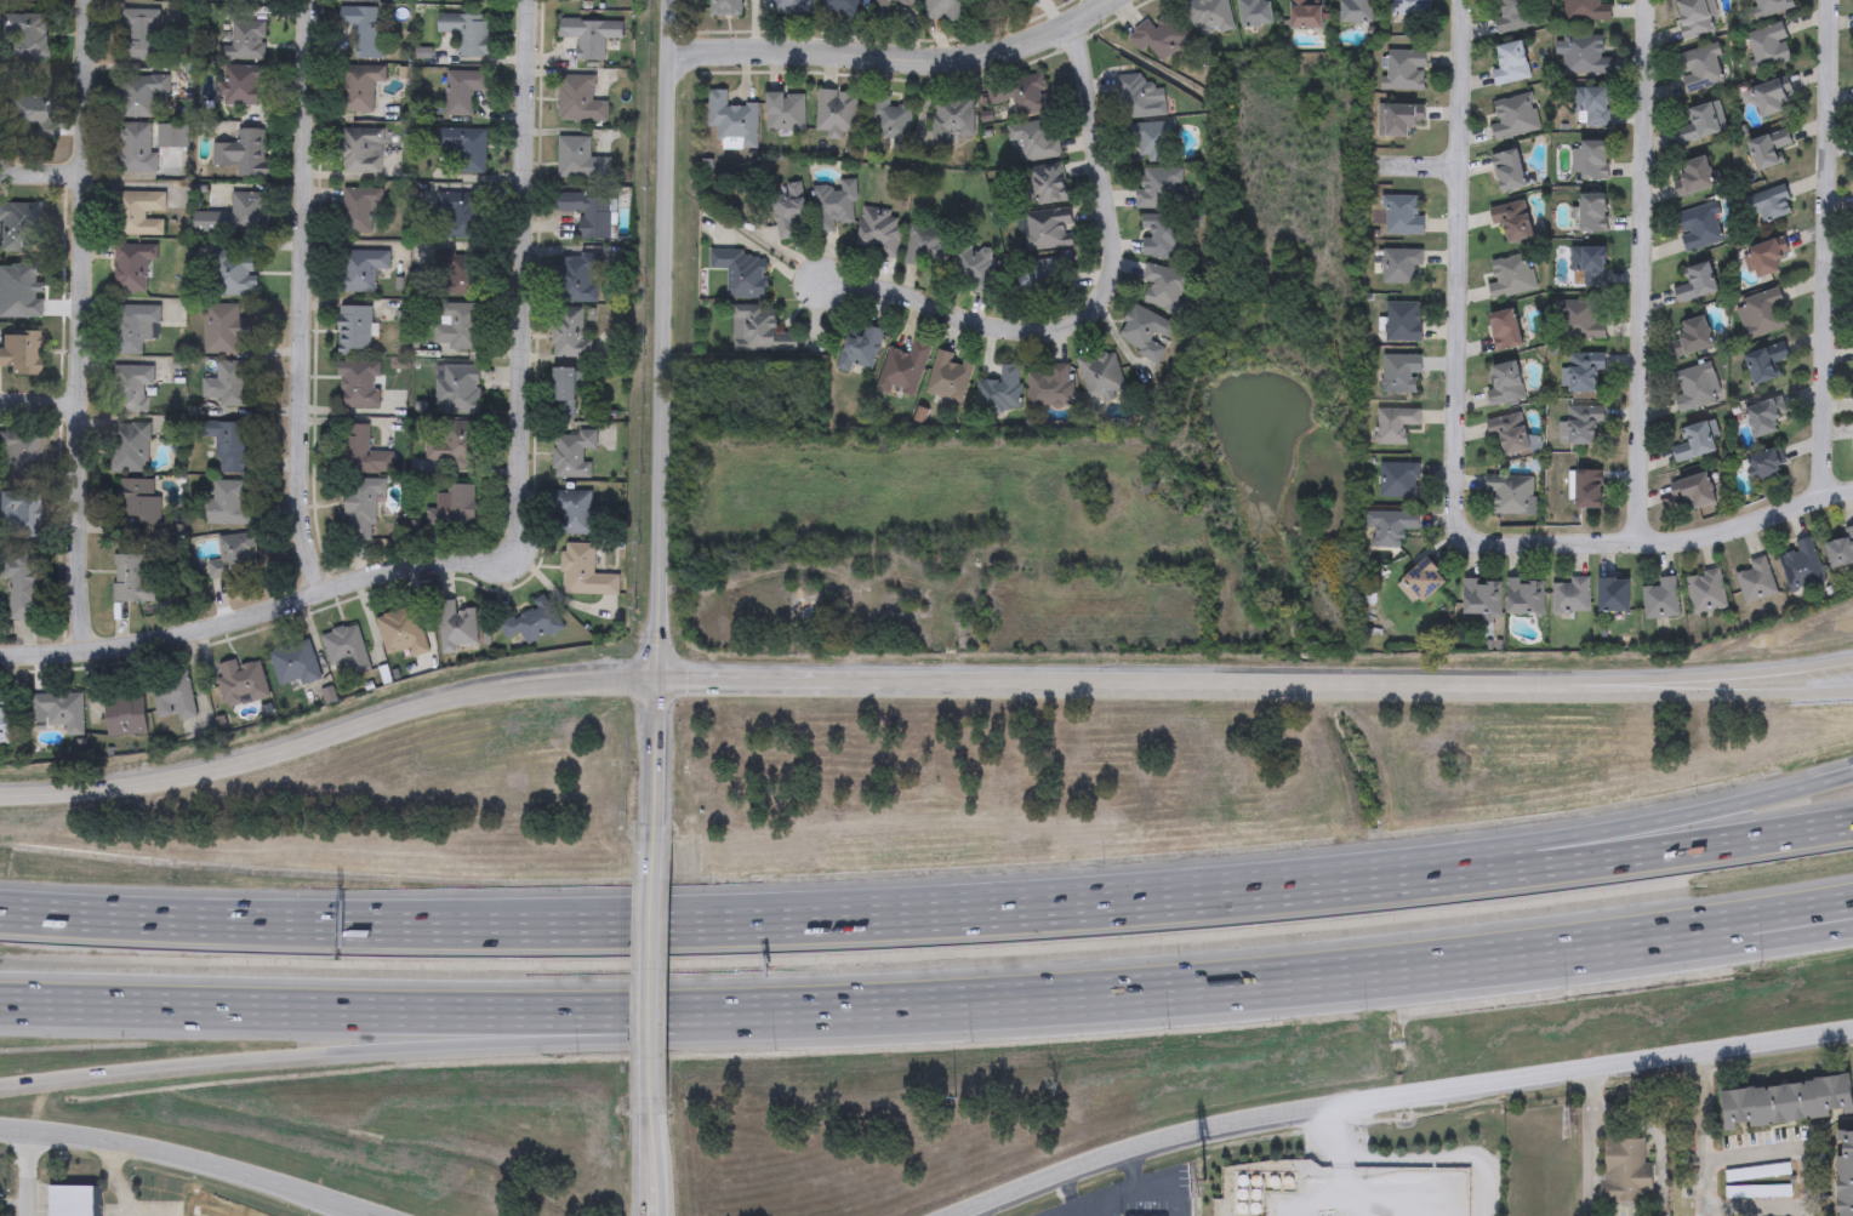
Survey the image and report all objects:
building: (467, 0)
building: (582, 0)
building: (247, 1)
building: (360, 1)
building: (791, 6)
building: (725, 7)
building: (842, 7)
building: (886, 7)
building: (1408, 7)
building: (1768, 7)
building: (943, 10)
building: (1585, 10)
building: (1356, 11)
building: (1255, 12)
building: (1208, 15)
building: (1306, 15)
building: (1512, 16)
building: (1693, 17)
building: (467, 33)
building: (361, 34)
building: (1159, 35)
building: (589, 36)
building: (246, 41)
building: (1768, 46)
building: (1584, 55)
road: (890, 57)
building: (1509, 63)
building: (1699, 68)
building: (1403, 69)
building: (243, 87)
building: (360, 87)
building: (463, 91)
building: (1025, 93)
building: (1139, 97)
building: (1769, 98)
building: (578, 99)
building: (1591, 107)
building: (783, 110)
building: (834, 113)
building: (1512, 115)
building: (951, 118)
building: (1397, 119)
building: (731, 120)
building: (889, 121)
building: (1699, 122)
building: (1034, 138)
building: (1152, 139)
building: (464, 148)
building: (1767, 148)
building: (361, 152)
building: (243, 154)
building: (578, 160)
building: (1587, 160)
road: (40, 170)
building: (1507, 171)
building: (1693, 176)
building: (1047, 184)
building: (1158, 187)
building: (834, 204)
building: (1768, 204)
building: (358, 210)
building: (788, 211)
building: (1591, 212)
building: (588, 213)
building: (1401, 215)
building: (235, 216)
building: (460, 216)
building: (1511, 219)
building: (1698, 228)
building: (1048, 229)
building: (878, 230)
building: (1162, 235)
building: (926, 244)
road: (1830, 249)
building: (1763, 258)
building: (1587, 264)
building: (1398, 266)
building: (360, 269)
building: (970, 269)
road: (1644, 270)
building: (740, 272)
building: (234, 274)
building: (1039, 275)
building: (457, 276)
building: (1510, 276)
building: (577, 279)
road: (524, 280)
building: (1694, 284)
building: (1164, 287)
road: (304, 298)
road: (1094, 301)
building: (1762, 313)
building: (1580, 320)
building: (1402, 321)
road: (82, 327)
building: (131, 327)
building: (458, 327)
building: (224, 330)
building: (757, 330)
building: (1504, 330)
building: (354, 331)
building: (1145, 332)
building: (569, 335)
building: (1690, 337)
building: (860, 347)
building: (1763, 362)
building: (903, 366)
building: (1398, 372)
building: (1100, 373)
building: (1583, 373)
building: (948, 378)
building: (1504, 384)
building: (230, 386)
building: (359, 386)
building: (1049, 387)
building: (130, 388)
building: (1692, 388)
building: (458, 390)
building: (999, 390)
building: (564, 394)
road: (40, 399)
road: (662, 413)
building: (1762, 416)
building: (1393, 424)
building: (1579, 426)
building: (1510, 434)
building: (1852, 436)
building: (1693, 441)
building: (230, 446)
building: (452, 446)
building: (130, 447)
building: (361, 452)
building: (571, 455)
road: (1454, 467)
building: (1762, 467)
building: (1397, 480)
building: (1584, 487)
building: (1692, 490)
building: (1509, 493)
building: (137, 502)
building: (228, 503)
building: (361, 508)
building: (452, 509)
building: (572, 513)
building: (1389, 527)
building: (1840, 549)
building: (234, 558)
building: (1798, 566)
building: (586, 573)
building: (1424, 580)
building: (131, 581)
building: (1754, 581)
building: (22, 582)
building: (1704, 592)
building: (1569, 595)
building: (1613, 595)
building: (1523, 596)
building: (1481, 598)
building: (1659, 599)
road: (249, 616)
building: (530, 626)
building: (457, 629)
building: (404, 634)
building: (346, 649)
building: (293, 664)
building: (240, 683)
road: (920, 684)
road: (1541, 686)
road: (1705, 693)
building: (172, 696)
building: (61, 710)
building: (124, 715)
road: (1567, 837)
road: (1567, 864)
road: (1060, 902)
road: (420, 921)
road: (1663, 930)
road: (1663, 947)
road: (655, 965)
road: (737, 1010)
road: (422, 1046)
road: (1392, 1096)
building: (1788, 1104)
road: (1704, 1131)
road: (1657, 1138)
road: (1587, 1140)
road: (1344, 1143)
road: (1441, 1155)
road: (654, 1159)
road: (1133, 1159)
road: (194, 1160)
road: (27, 1172)
building: (1626, 1172)
building: (1846, 1174)
road: (1811, 1177)
road: (114, 1178)
road: (1067, 1188)
road: (1163, 1194)
road: (1321, 1195)
road: (1380, 1195)
road: (1102, 1199)
building: (70, 1201)
road: (1094, 1209)
road: (971, 1211)

